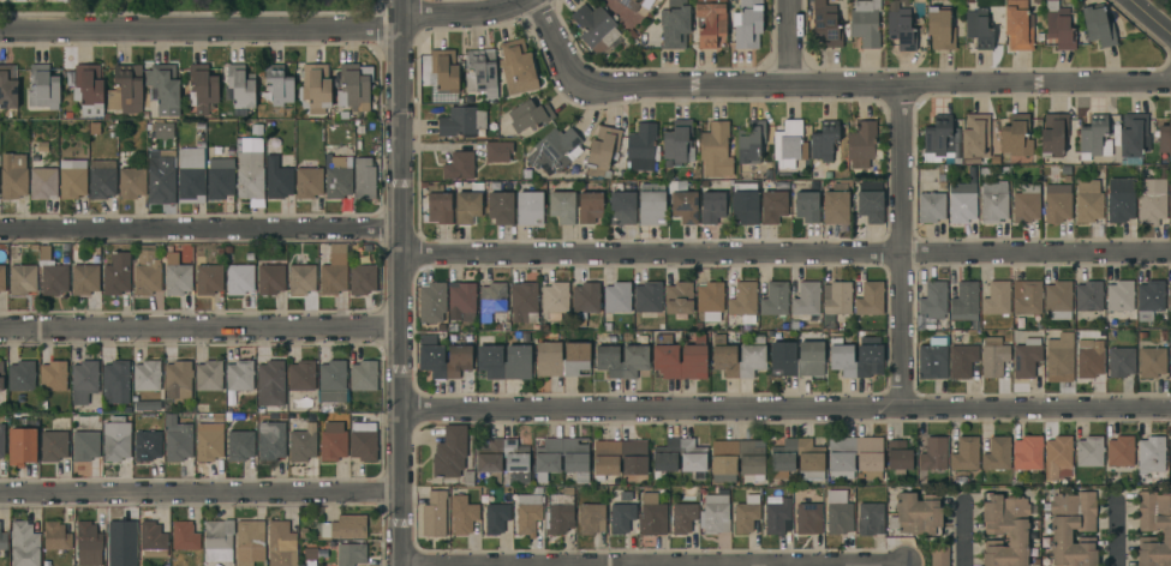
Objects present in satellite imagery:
park: (137, 4)
building: (635, 4)
road: (1151, 16)
road: (470, 17)
building: (865, 23)
building: (675, 24)
building: (712, 24)
building: (747, 24)
building: (826, 24)
building: (1059, 25)
building: (1099, 25)
building: (596, 28)
building: (980, 28)
building: (939, 29)
building: (1017, 29)
building: (901, 30)
road: (201, 31)
road: (791, 43)
building: (516, 67)
building: (482, 72)
building: (443, 76)
building: (279, 85)
building: (241, 86)
building: (356, 86)
building: (7, 88)
building: (43, 88)
building: (165, 88)
building: (202, 88)
building: (316, 88)
road: (830, 88)
building: (89, 90)
building: (126, 90)
building: (70, 115)
building: (345, 115)
building: (530, 115)
building: (461, 121)
building: (163, 130)
building: (1053, 134)
building: (976, 136)
building: (1016, 136)
building: (1134, 136)
building: (1165, 137)
building: (1095, 138)
building: (938, 139)
building: (824, 140)
building: (751, 141)
building: (679, 143)
building: (789, 144)
building: (43, 147)
building: (641, 147)
building: (862, 147)
building: (555, 149)
building: (715, 150)
building: (497, 151)
building: (603, 151)
building: (231, 153)
building: (459, 165)
building: (250, 175)
building: (829, 175)
building: (13, 176)
building: (161, 176)
building: (191, 176)
building: (337, 177)
building: (72, 179)
building: (102, 179)
building: (220, 179)
building: (277, 179)
building: (364, 179)
building: (309, 182)
building: (43, 183)
building: (131, 183)
building: (943, 186)
building: (963, 199)
building: (1121, 199)
building: (1152, 199)
building: (683, 201)
building: (1088, 201)
building: (993, 203)
building: (1057, 203)
building: (745, 204)
building: (1026, 204)
building: (438, 205)
building: (468, 205)
building: (622, 205)
building: (652, 205)
building: (870, 205)
building: (562, 206)
building: (712, 206)
building: (773, 206)
building: (807, 206)
building: (501, 207)
building: (530, 207)
building: (590, 207)
building: (835, 207)
building: (931, 207)
building: (1170, 210)
road: (202, 228)
road: (904, 247)
road: (788, 251)
building: (44, 253)
building: (334, 271)
building: (116, 273)
building: (147, 273)
building: (177, 276)
building: (2, 278)
building: (209, 278)
building: (23, 279)
building: (54, 279)
building: (84, 279)
building: (239, 279)
building: (270, 279)
building: (301, 279)
building: (362, 279)
road: (405, 283)
building: (1027, 296)
building: (1089, 296)
building: (432, 297)
building: (617, 297)
building: (647, 297)
building: (805, 297)
building: (1170, 297)
building: (679, 299)
building: (870, 299)
building: (997, 299)
building: (1149, 299)
building: (492, 300)
building: (555, 300)
building: (585, 300)
building: (710, 300)
building: (775, 300)
building: (933, 300)
building: (1058, 300)
building: (461, 301)
building: (742, 301)
building: (835, 301)
building: (1119, 301)
building: (524, 302)
building: (964, 302)
building: (795, 326)
road: (203, 331)
building: (782, 350)
building: (870, 353)
building: (431, 354)
building: (752, 354)
building: (665, 355)
building: (623, 356)
building: (993, 357)
building: (1026, 357)
building: (1170, 357)
building: (933, 359)
building: (1059, 359)
building: (562, 360)
building: (962, 360)
building: (1088, 360)
building: (504, 362)
building: (1121, 362)
building: (1152, 362)
building: (1, 375)
building: (22, 375)
building: (53, 375)
building: (147, 375)
building: (209, 375)
building: (239, 375)
building: (301, 375)
building: (364, 375)
building: (178, 379)
building: (84, 381)
building: (333, 381)
building: (115, 383)
building: (270, 387)
road: (788, 405)
building: (148, 407)
building: (127, 410)
building: (116, 439)
building: (177, 439)
building: (301, 439)
building: (209, 441)
building: (270, 441)
building: (333, 441)
building: (363, 441)
building: (148, 444)
building: (2, 445)
building: (240, 445)
building: (22, 446)
building: (54, 446)
building: (85, 446)
building: (1089, 451)
building: (450, 452)
building: (1121, 452)
building: (966, 453)
building: (1027, 453)
building: (1170, 453)
building: (933, 454)
building: (997, 454)
building: (1151, 454)
building: (1057, 456)
building: (563, 457)
building: (621, 457)
building: (681, 457)
building: (898, 457)
building: (488, 462)
building: (841, 462)
building: (811, 463)
building: (723, 465)
building: (468, 478)
road: (201, 493)
building: (560, 510)
building: (528, 512)
building: (837, 512)
building: (434, 514)
building: (462, 514)
building: (652, 514)
building: (686, 514)
building: (715, 514)
building: (746, 514)
building: (916, 514)
building: (777, 517)
building: (496, 518)
building: (591, 518)
building: (621, 518)
building: (808, 518)
building: (870, 519)
building: (341, 528)
building: (1083, 529)
building: (1005, 530)
building: (1146, 530)
road: (963, 534)
road: (1116, 534)
building: (56, 536)
building: (184, 536)
building: (153, 540)
building: (219, 540)
building: (4, 541)
building: (121, 542)
building: (250, 542)
building: (280, 543)
building: (24, 544)
building: (88, 544)
building: (1033, 553)
building: (310, 554)
building: (351, 554)
building: (939, 554)
building: (311, 564)
road: (781, 565)

